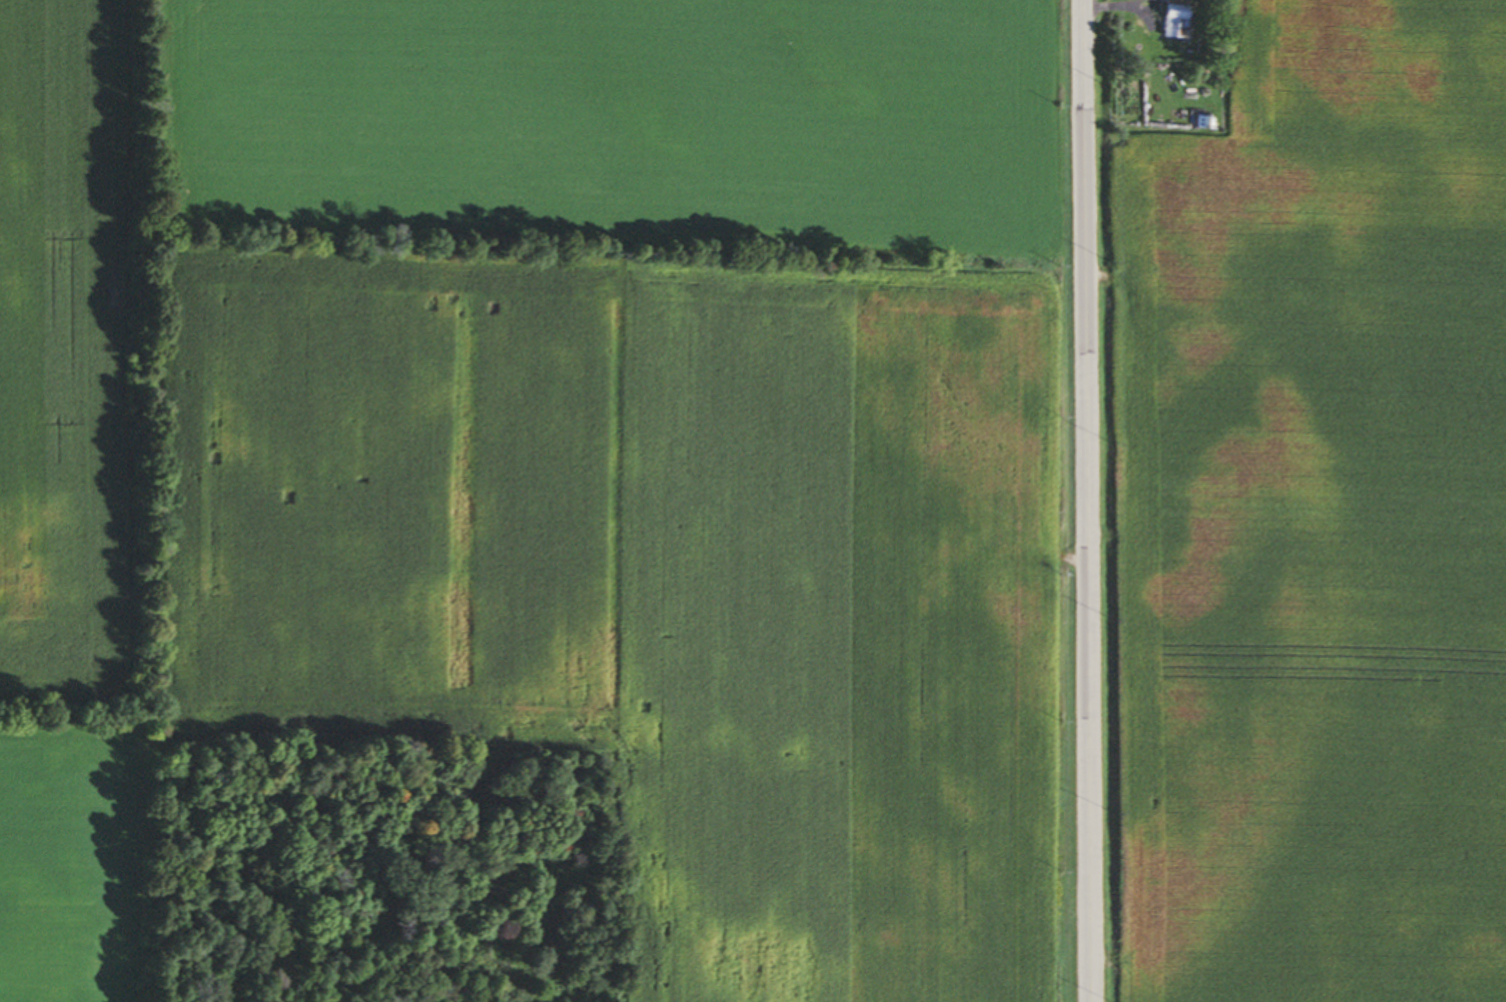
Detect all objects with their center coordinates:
building: (1171, 19)
road: (1088, 500)

